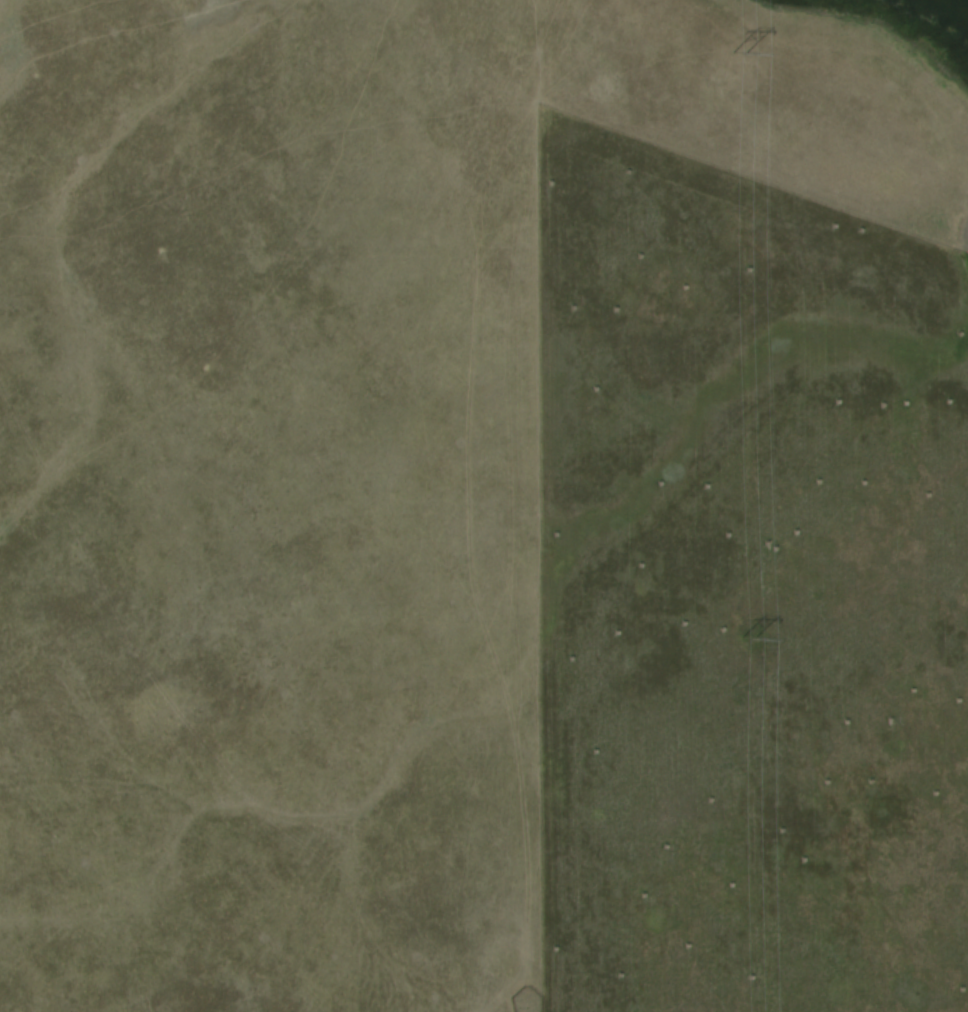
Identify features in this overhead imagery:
power tower: (729, 56)
power tower: (743, 637)

